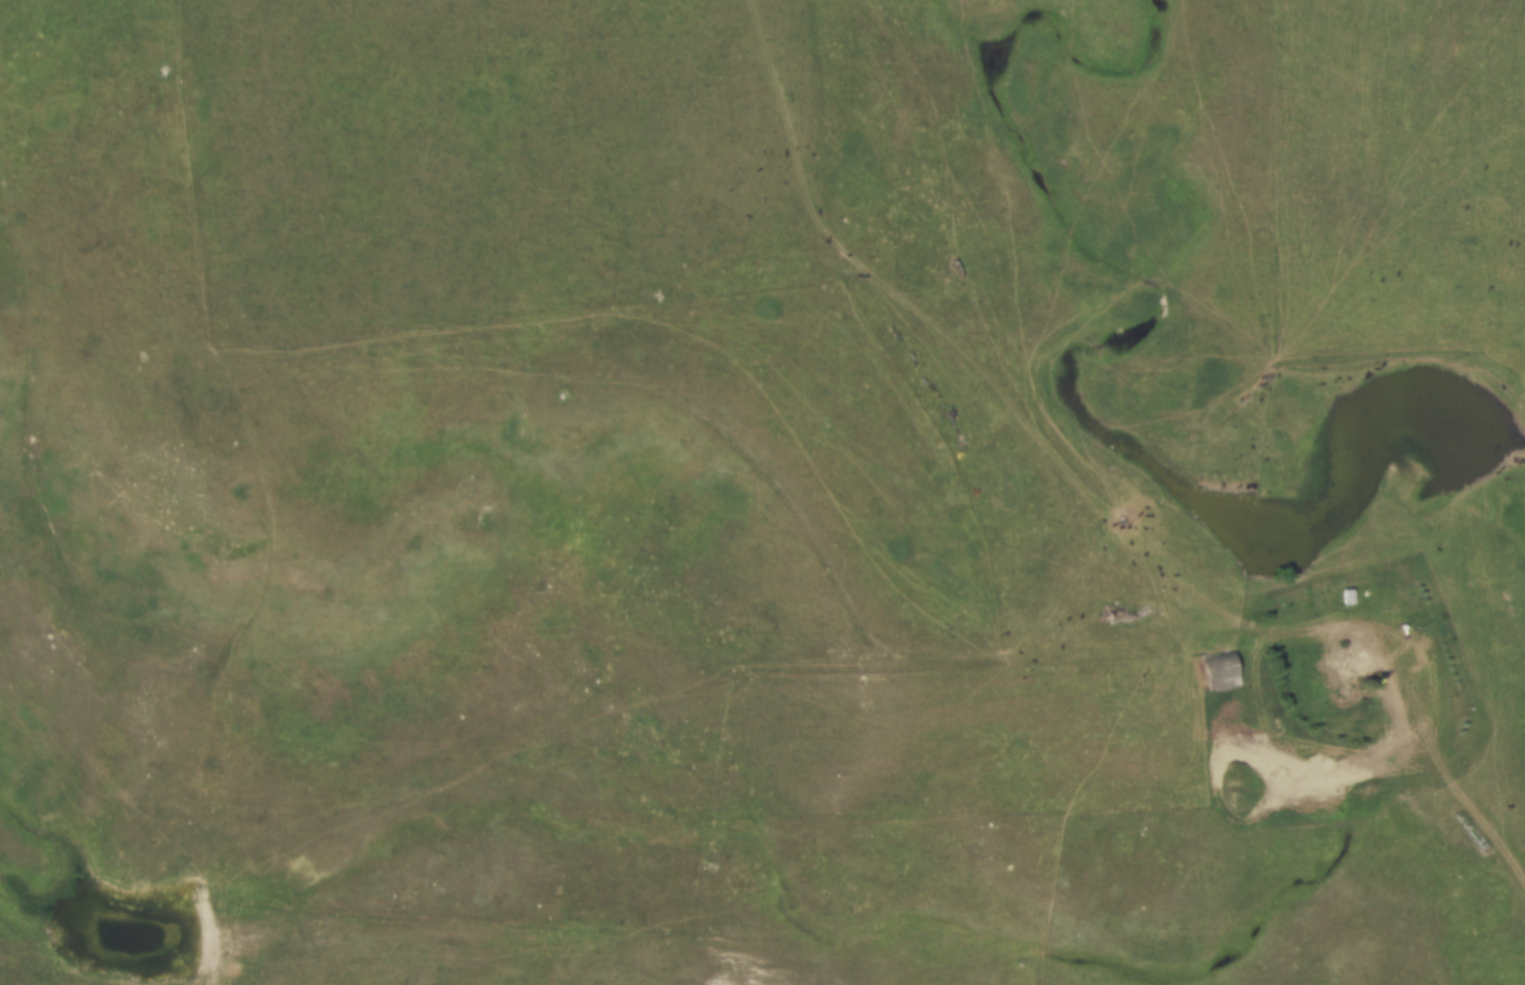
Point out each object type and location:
building: (1218, 668)
road: (1404, 713)

